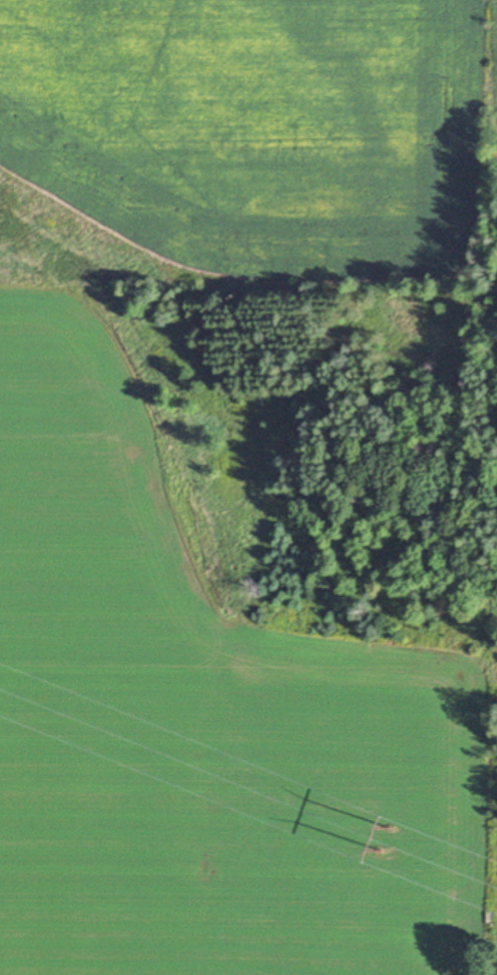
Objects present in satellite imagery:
power tower: (391, 839)

